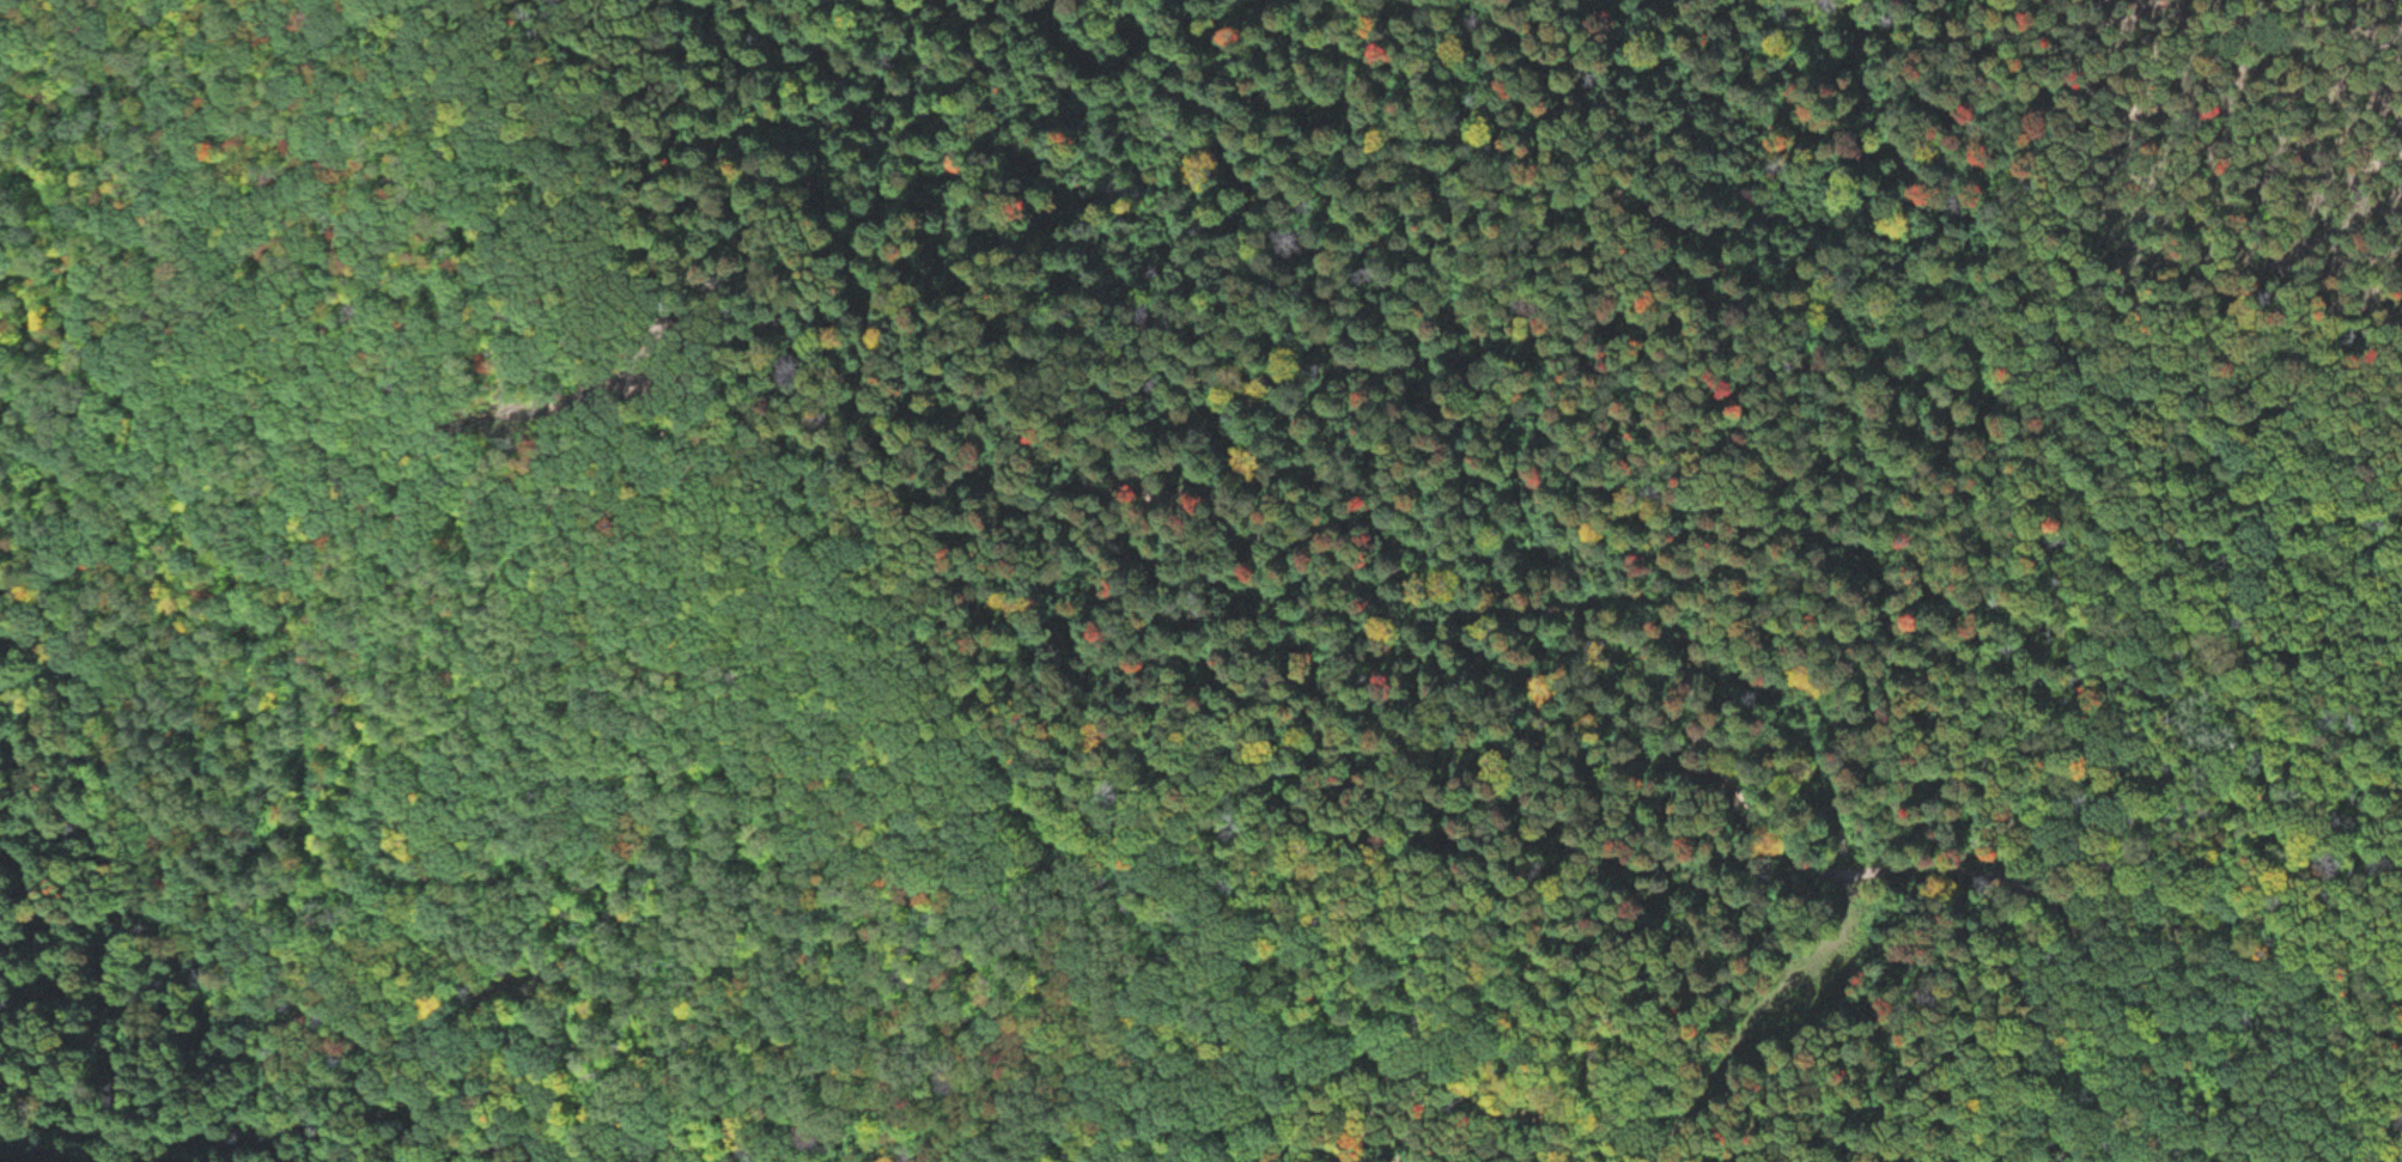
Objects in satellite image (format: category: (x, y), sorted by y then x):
road: (2036, 550)

